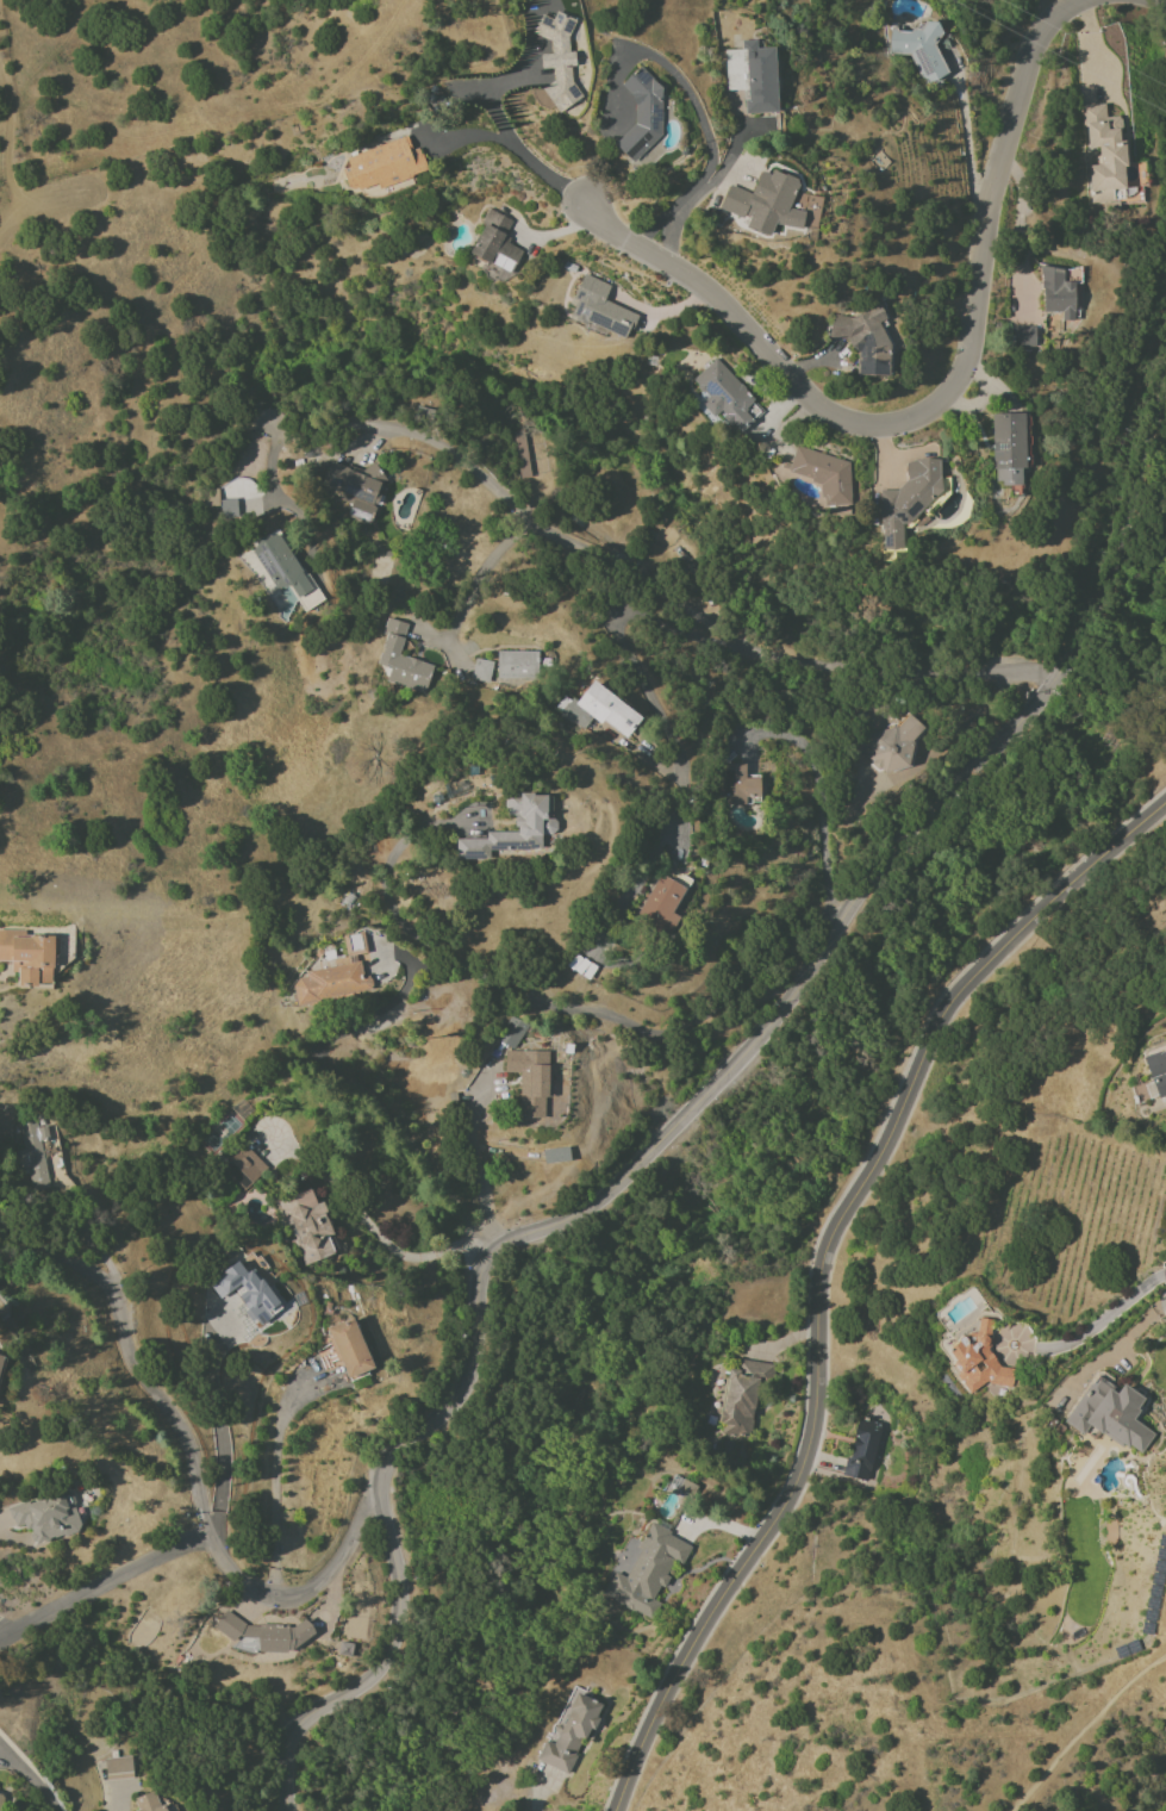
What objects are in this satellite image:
building: (918, 49)
road: (1087, 50)
building: (562, 61)
building: (752, 76)
road: (468, 92)
road: (487, 101)
road: (694, 108)
building: (641, 114)
road: (469, 136)
road: (967, 148)
building: (687, 153)
building: (1104, 156)
building: (387, 167)
road: (699, 195)
building: (765, 203)
road: (559, 232)
road: (668, 242)
building: (495, 247)
building: (1055, 293)
building: (594, 316)
building: (1023, 336)
building: (863, 340)
building: (727, 400)
road: (933, 402)
road: (362, 443)
building: (1006, 447)
building: (520, 454)
road: (273, 456)
building: (824, 475)
building: (357, 488)
building: (206, 498)
building: (908, 498)
building: (285, 571)
road: (486, 571)
road: (669, 596)
building: (401, 659)
building: (516, 665)
building: (481, 670)
road: (642, 682)
building: (597, 710)
building: (893, 745)
road: (1127, 778)
building: (736, 784)
road: (818, 799)
building: (534, 826)
building: (660, 905)
building: (27, 956)
building: (336, 975)
road: (551, 1007)
building: (511, 1032)
building: (530, 1079)
road: (348, 1083)
road: (686, 1120)
park: (220, 1132)
building: (32, 1155)
building: (555, 1155)
building: (242, 1168)
road: (475, 1168)
road: (364, 1224)
building: (307, 1226)
road: (89, 1234)
road: (819, 1268)
building: (247, 1292)
road: (1099, 1321)
building: (349, 1348)
road: (1117, 1349)
road: (1010, 1356)
building: (978, 1359)
building: (1, 1362)
building: (742, 1396)
building: (1109, 1414)
road: (218, 1427)
building: (861, 1449)
road: (193, 1465)
road: (274, 1477)
building: (45, 1516)
road: (0, 1520)
building: (647, 1572)
road: (101, 1581)
building: (264, 1633)
road: (2, 1635)
road: (1083, 1726)
building: (569, 1734)
building: (117, 1768)
road: (31, 1778)
building: (0, 1800)
building: (146, 1803)

